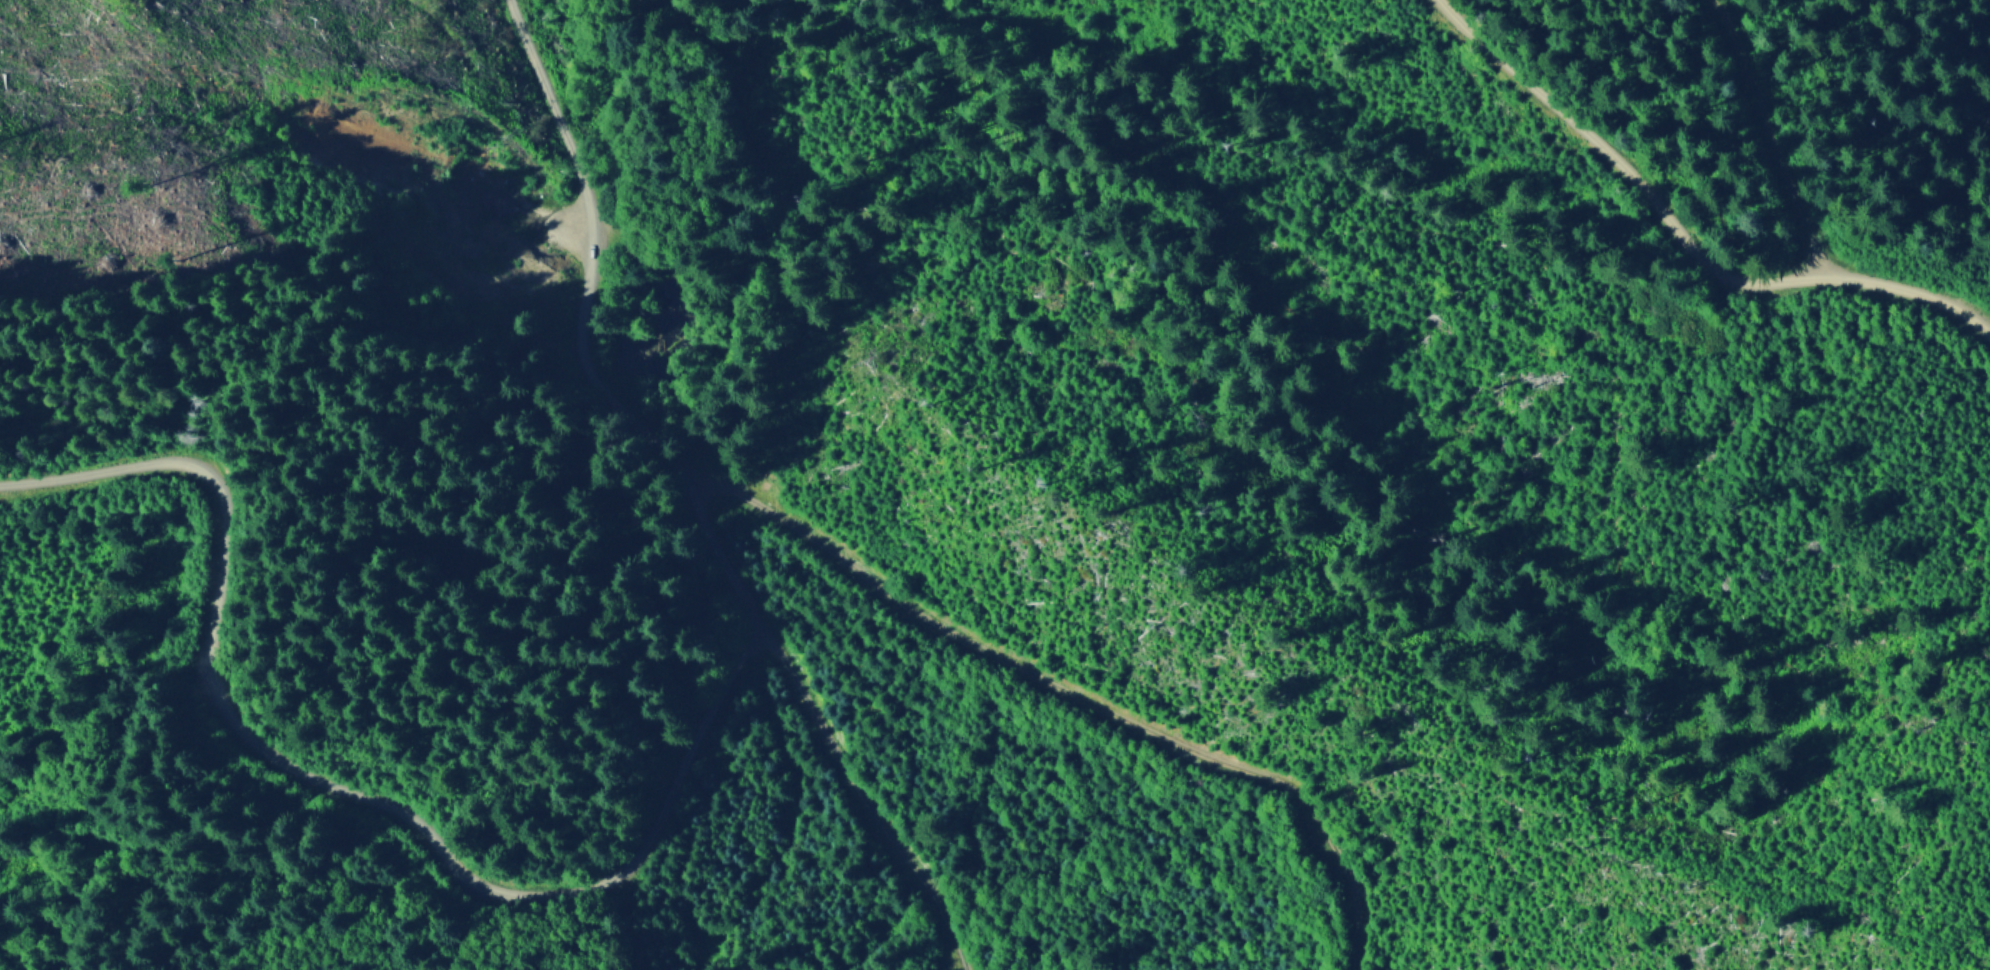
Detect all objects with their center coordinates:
road: (1681, 239)
road: (583, 331)
road: (888, 782)
road: (328, 812)

